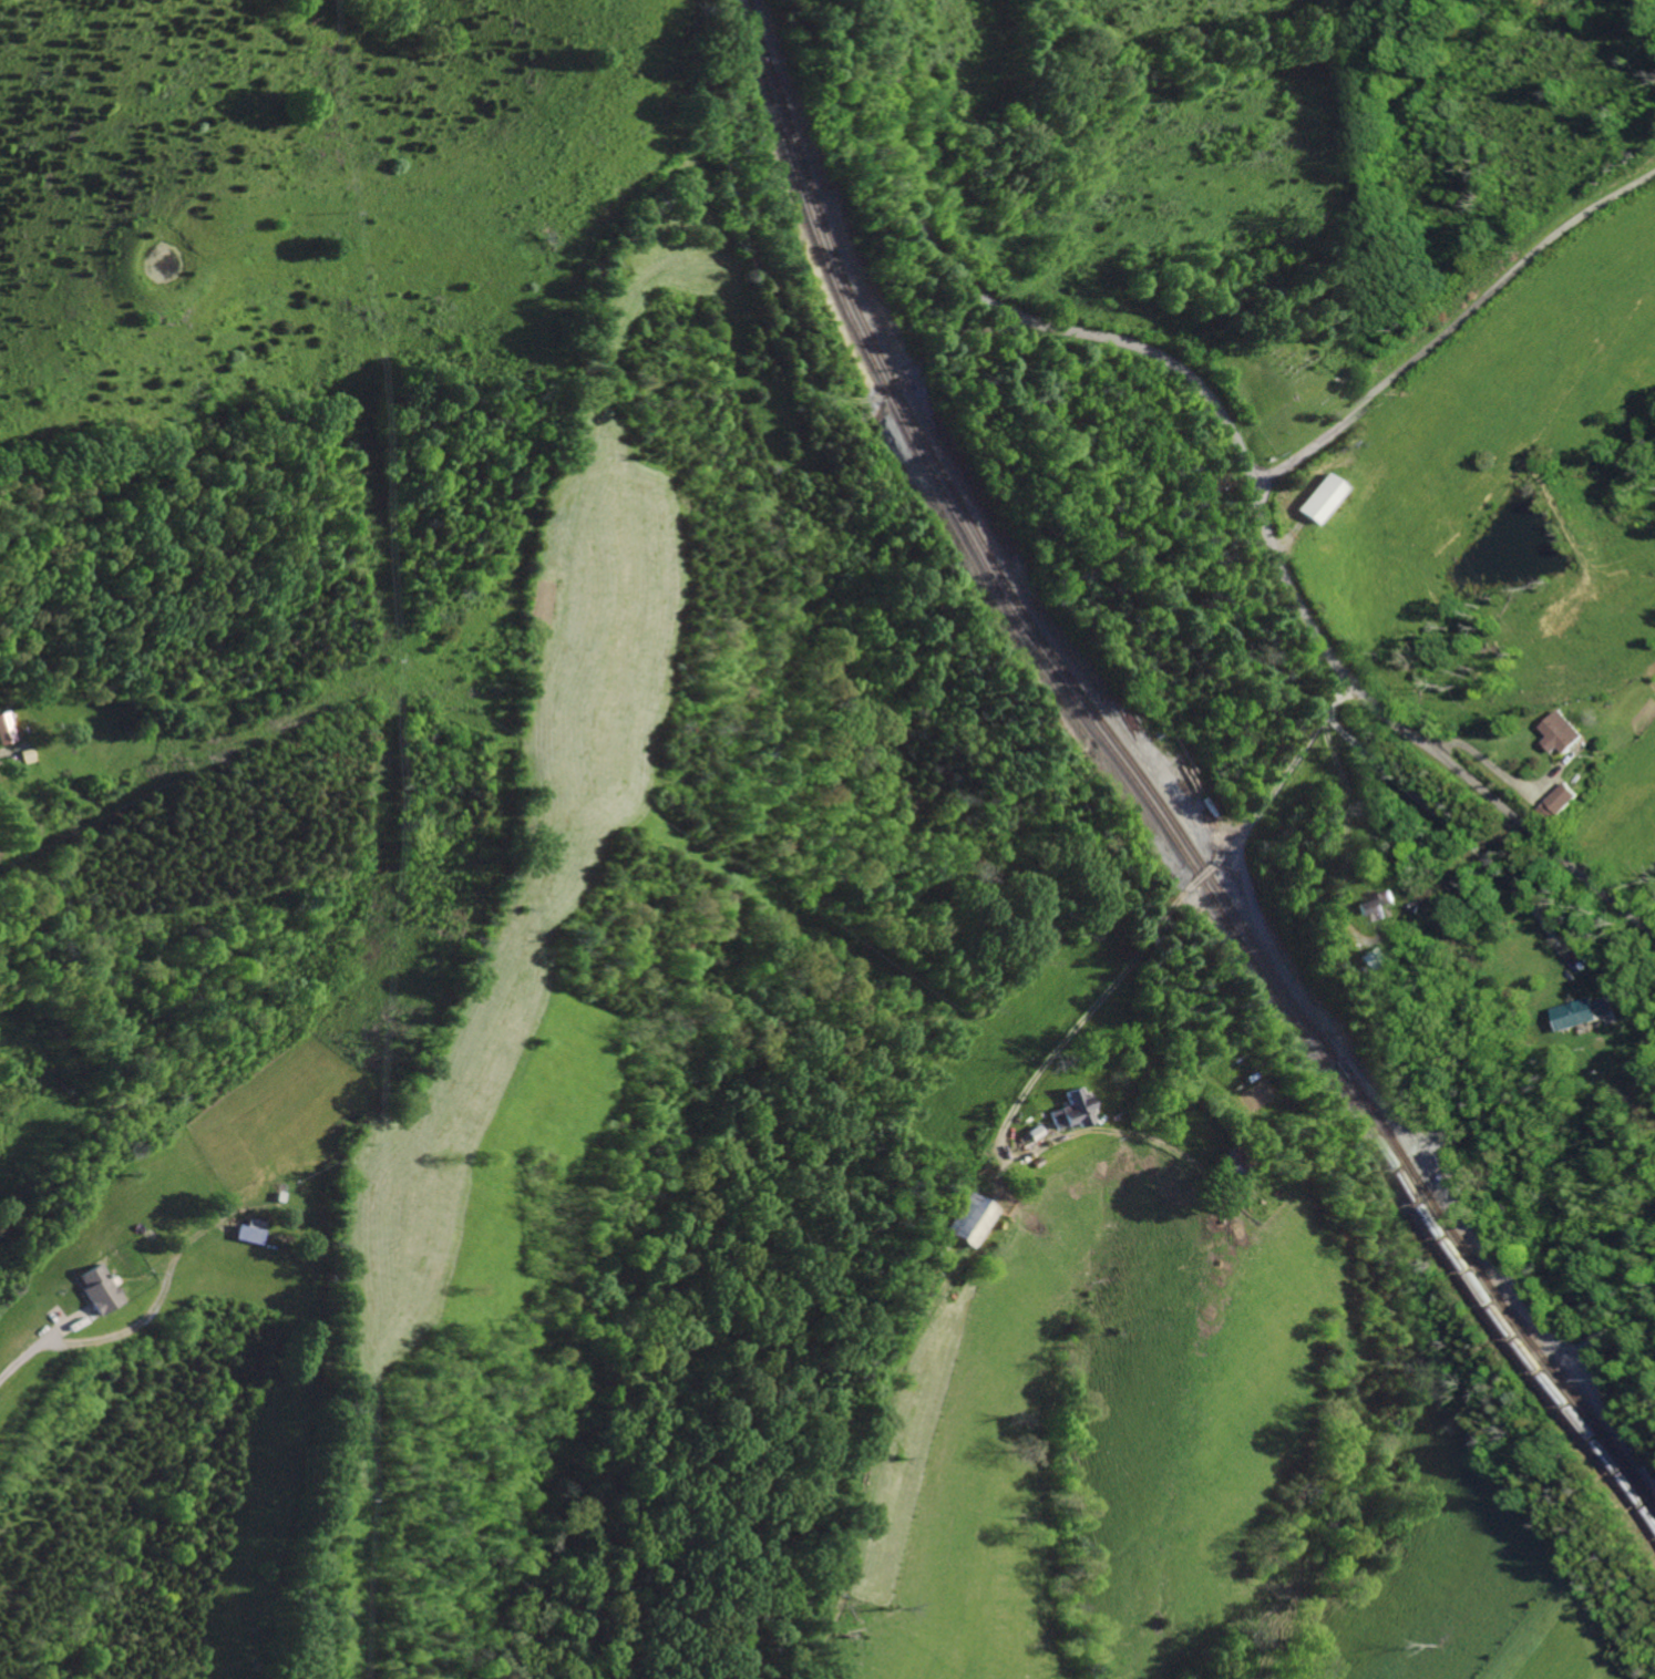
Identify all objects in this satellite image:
road: (746, 244)
road: (1452, 326)
park: (1299, 380)
road: (1241, 456)
building: (1315, 499)
building: (3, 728)
building: (1562, 732)
road: (4, 750)
railway: (1145, 784)
railway: (1141, 793)
building: (1561, 802)
building: (1374, 903)
road: (1172, 911)
building: (1585, 1013)
building: (1065, 1110)
railway: (1418, 1180)
building: (956, 1219)
building: (241, 1234)
building: (95, 1289)
road: (96, 1341)
railway: (1584, 1415)

